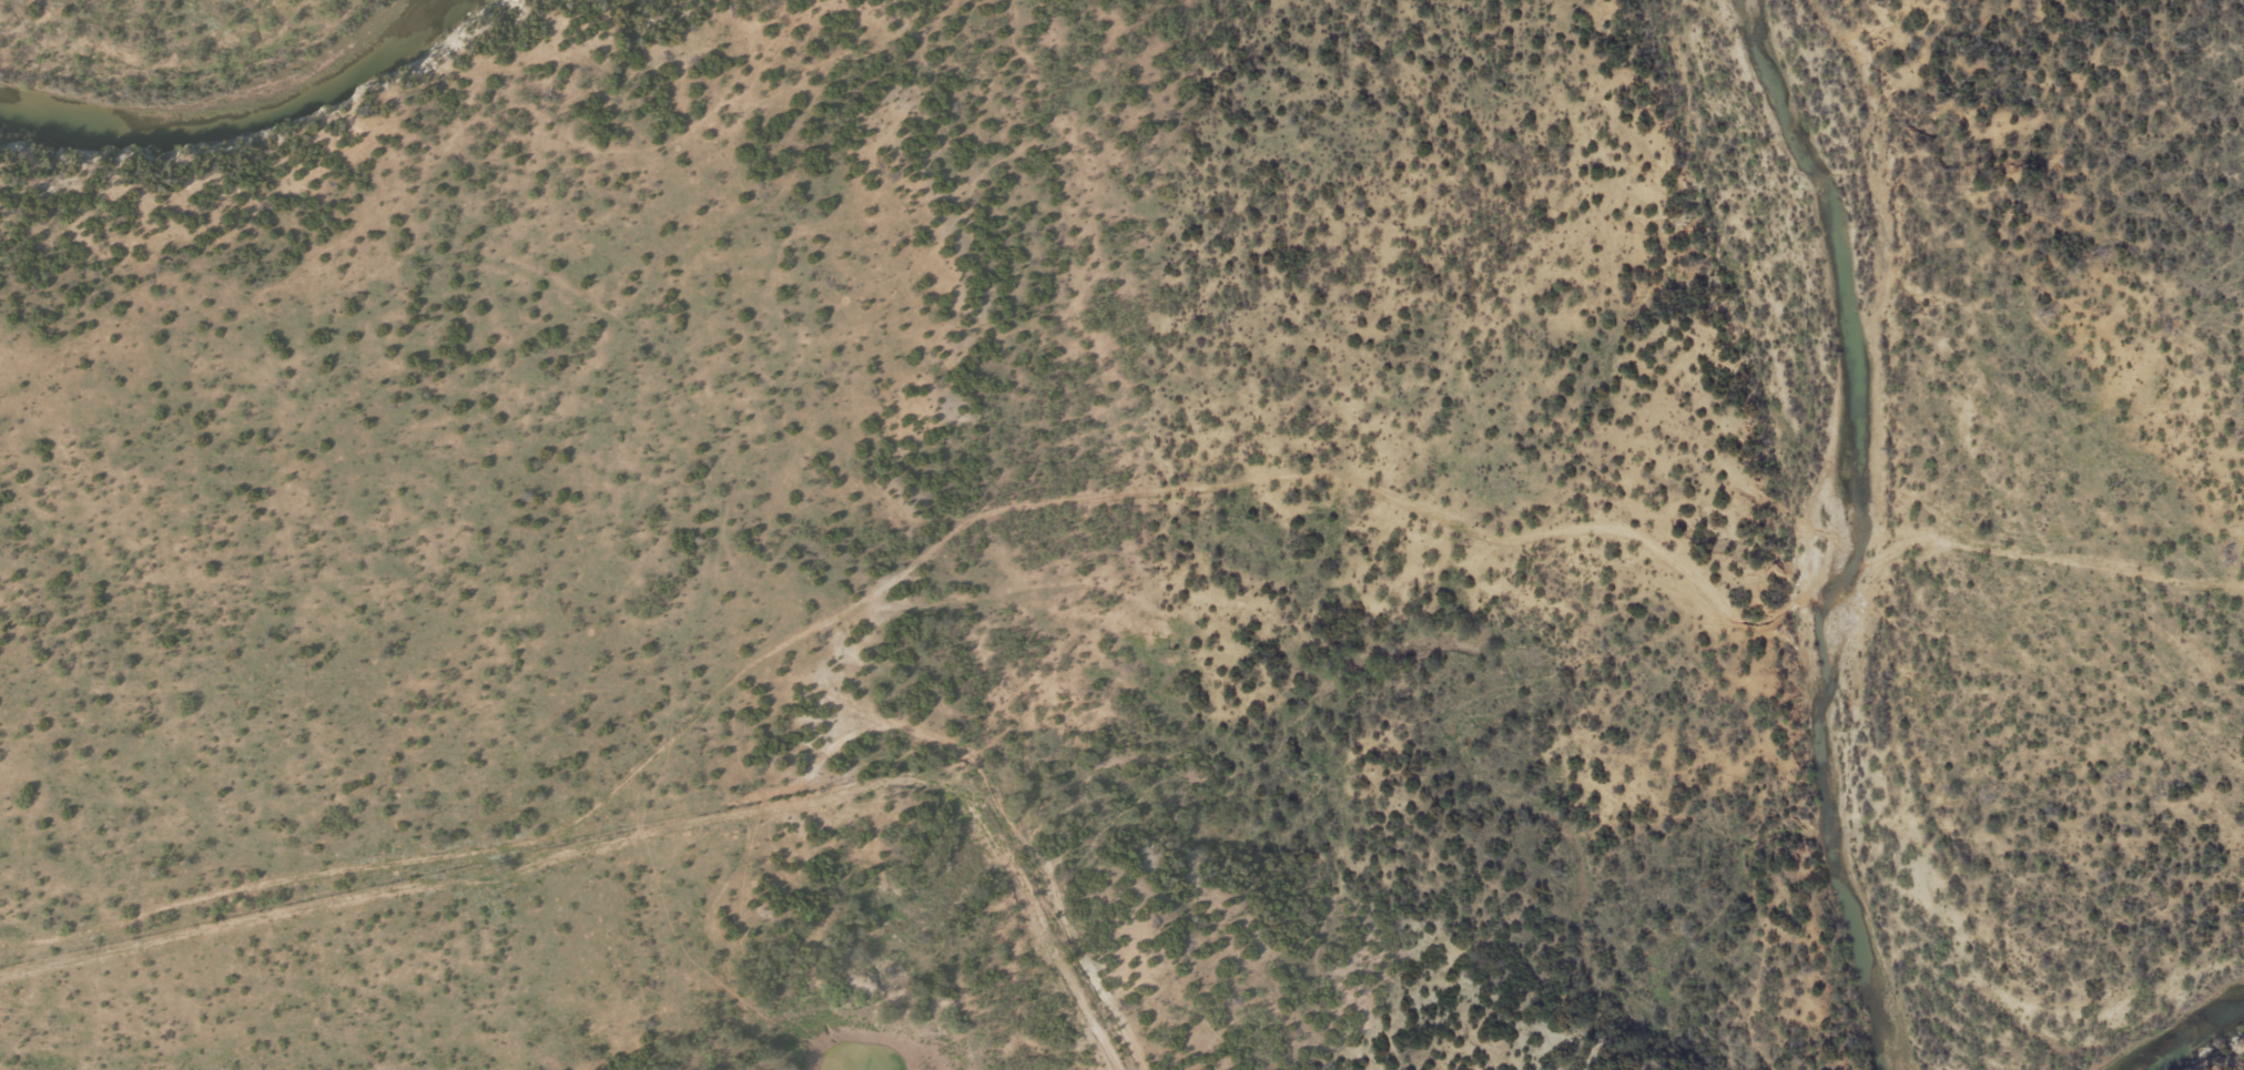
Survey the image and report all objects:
river: (235, 115)
river: (1837, 531)
river: (2183, 1036)

